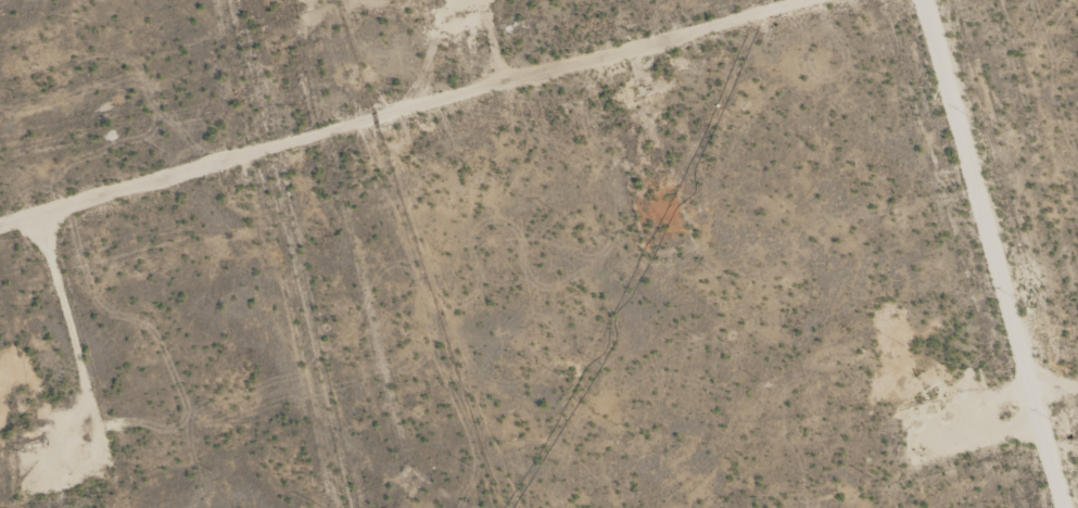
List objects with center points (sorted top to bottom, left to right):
road: (394, 100)
road: (1007, 203)

